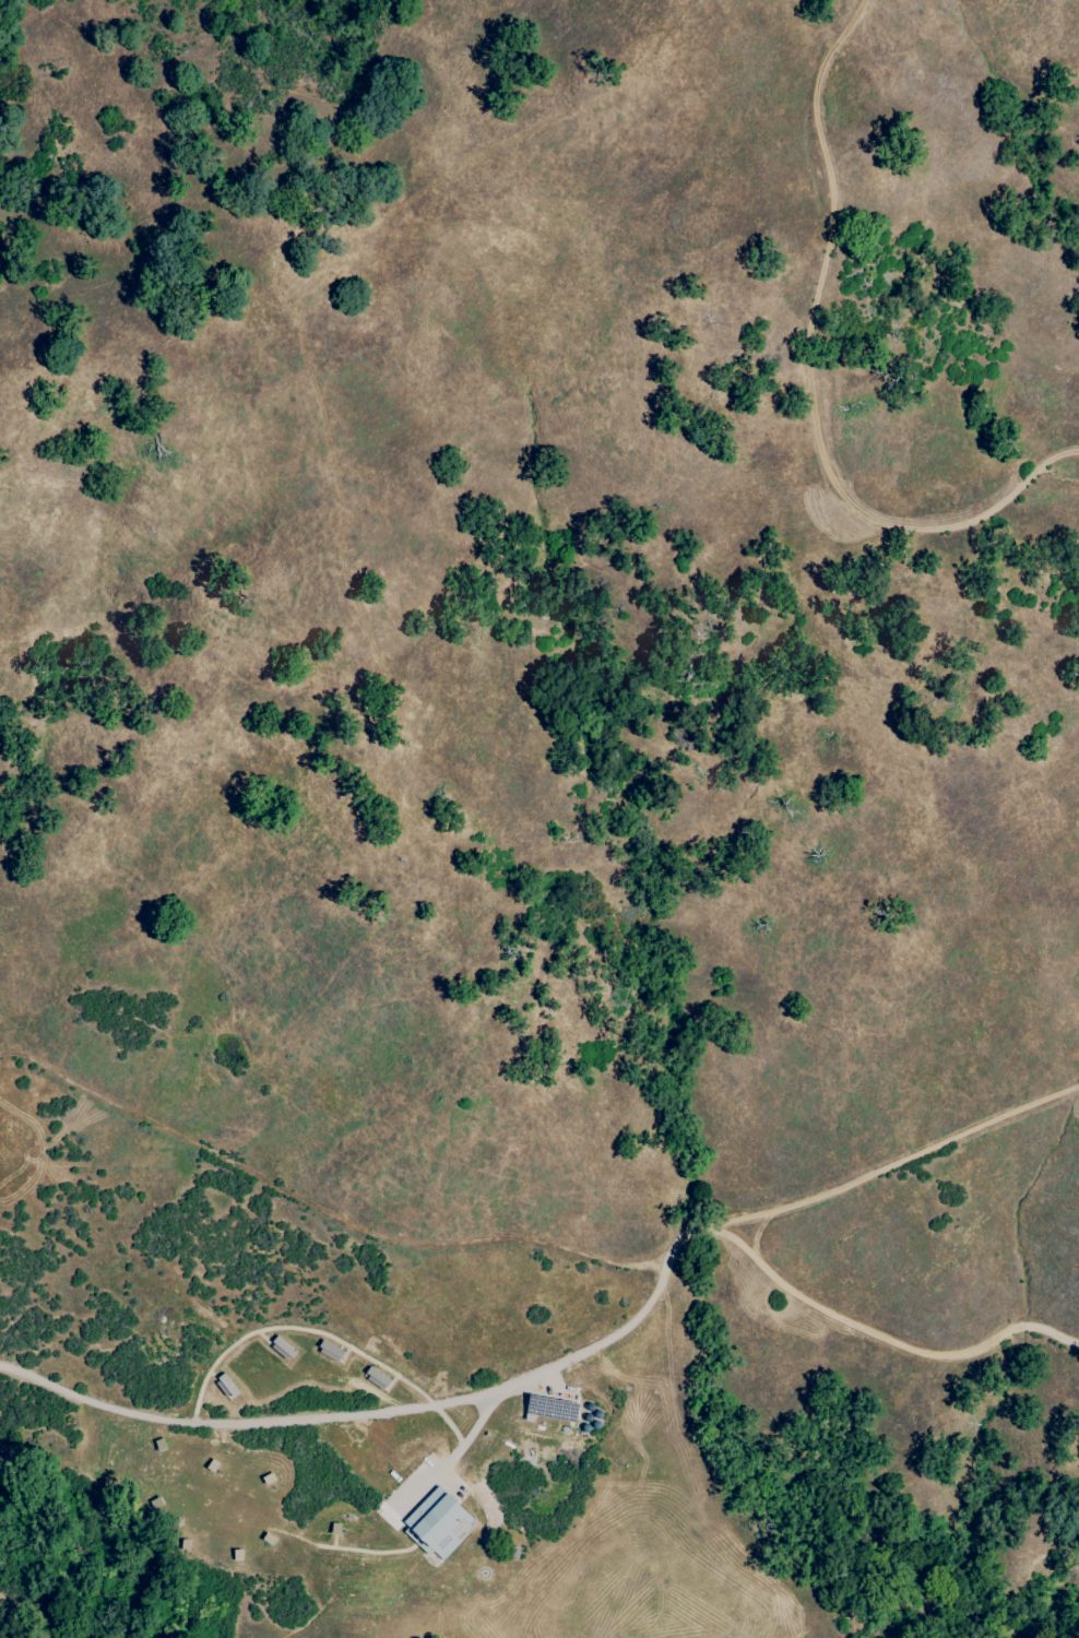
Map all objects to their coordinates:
road: (305, 318)
road: (808, 375)
building: (400, 862)
road: (906, 1167)
road: (728, 1234)
building: (280, 1351)
building: (327, 1353)
building: (372, 1380)
building: (223, 1389)
building: (547, 1411)
road: (235, 1427)
building: (439, 1523)

